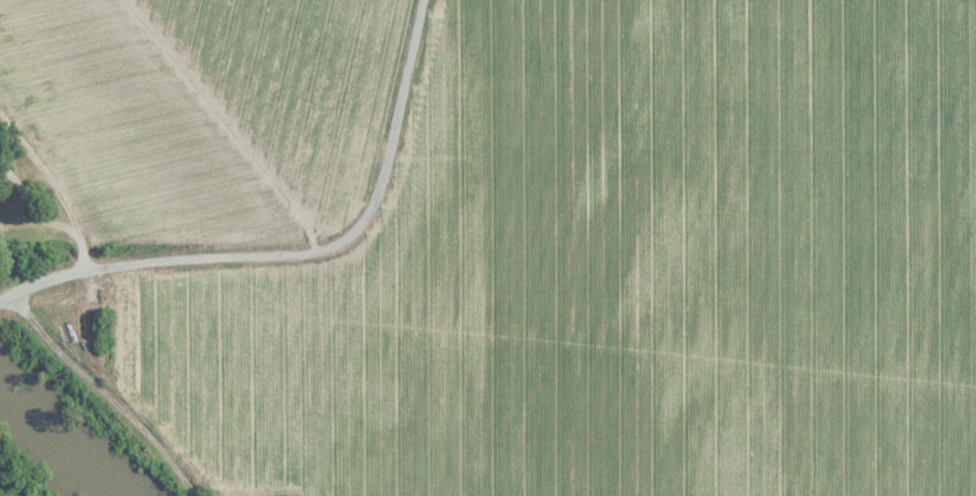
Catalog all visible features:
road: (299, 255)
road: (102, 394)
river: (64, 434)

